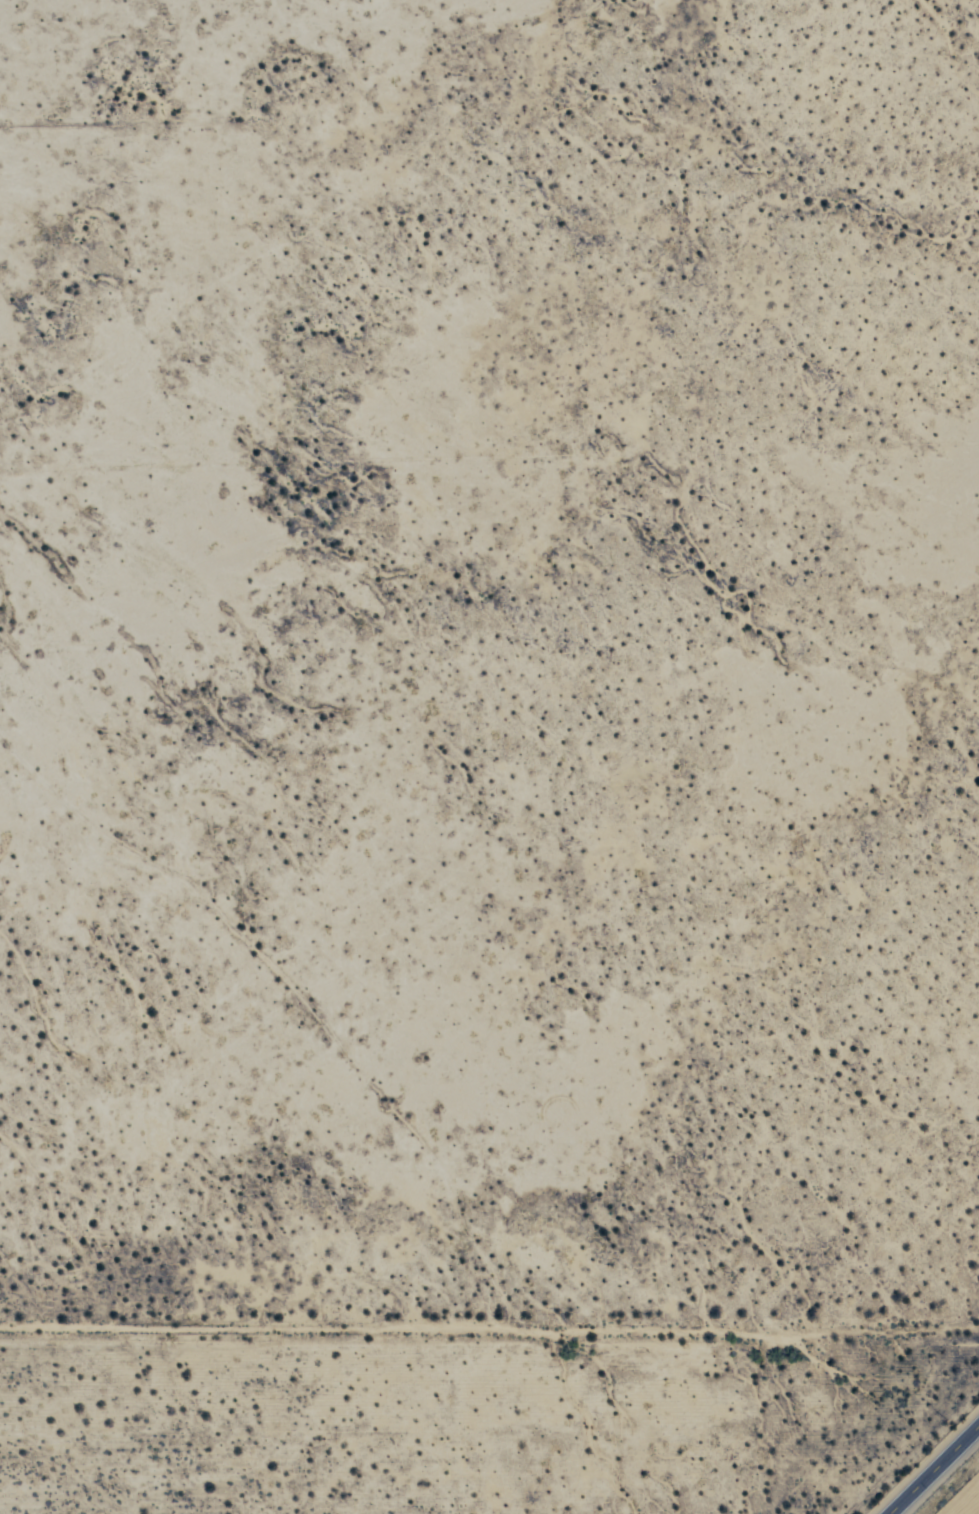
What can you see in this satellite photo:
road: (930, 1466)

